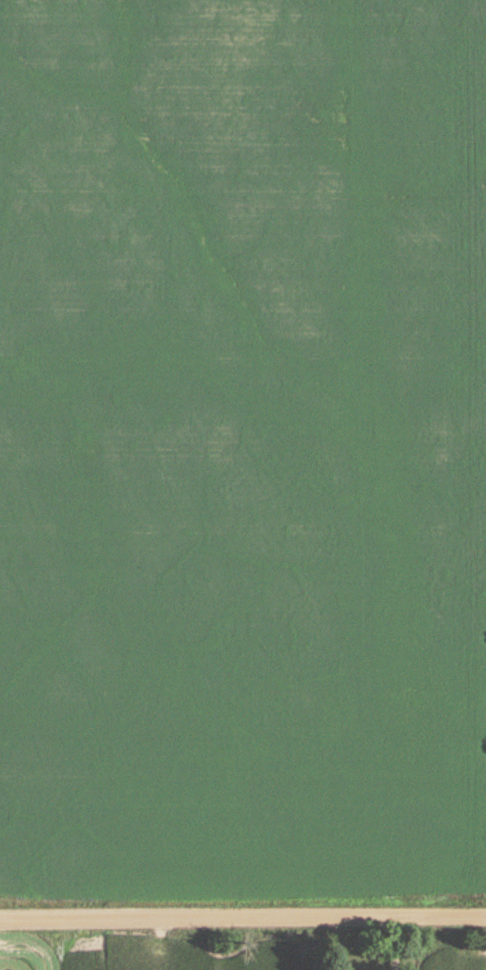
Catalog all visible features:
road: (243, 911)
road: (395, 940)

